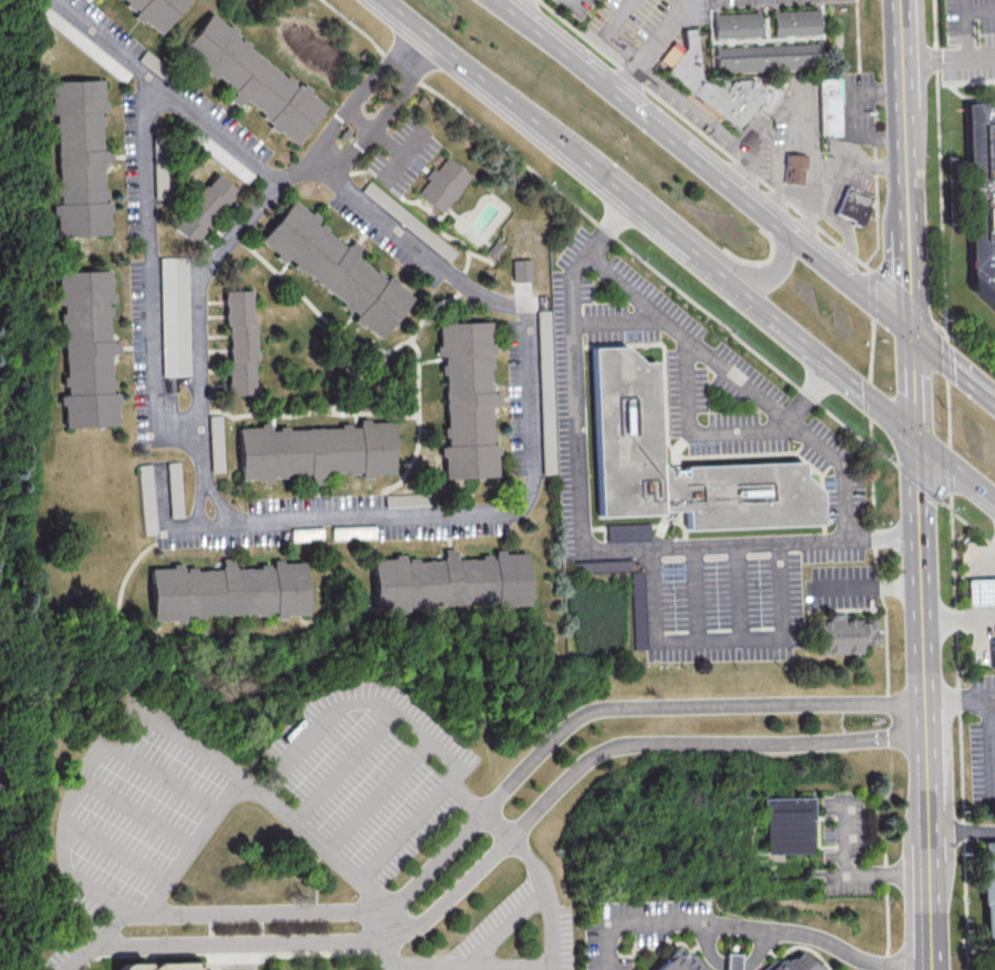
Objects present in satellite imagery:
parking lot: (590, 1)
parking lot: (767, 2)
road: (515, 5)
road: (571, 5)
building: (154, 12)
road: (981, 13)
building: (793, 23)
building: (735, 26)
road: (968, 29)
road: (662, 30)
road: (605, 33)
road: (857, 44)
road: (948, 60)
building: (764, 62)
road: (626, 77)
building: (253, 79)
road: (902, 84)
building: (714, 86)
road: (361, 93)
road: (501, 93)
road: (181, 104)
building: (826, 106)
parking lot: (690, 111)
road: (692, 112)
road: (849, 112)
road: (384, 114)
road: (701, 131)
road: (372, 136)
road: (802, 147)
parking lot: (402, 156)
road: (402, 157)
building: (80, 158)
road: (748, 160)
road: (940, 165)
road: (704, 168)
building: (791, 169)
building: (442, 184)
road: (827, 186)
building: (980, 201)
road: (799, 205)
building: (851, 206)
building: (202, 207)
road: (876, 209)
road: (448, 212)
road: (443, 223)
road: (662, 227)
road: (609, 234)
building: (491, 249)
road: (910, 252)
road: (484, 258)
building: (336, 270)
building: (520, 270)
road: (759, 275)
road: (147, 276)
parking lot: (165, 277)
road: (725, 279)
road: (195, 289)
road: (872, 294)
road: (307, 295)
road: (902, 295)
road: (431, 305)
building: (173, 316)
road: (617, 321)
building: (543, 322)
traffic signals: (913, 337)
building: (242, 341)
road: (397, 344)
road: (963, 345)
road: (871, 348)
building: (86, 349)
road: (946, 355)
road: (432, 360)
road: (828, 366)
park: (350, 368)
road: (954, 369)
parking lot: (701, 376)
road: (742, 383)
road: (914, 388)
building: (468, 399)
road: (873, 403)
road: (372, 413)
building: (625, 413)
road: (948, 413)
road: (726, 430)
road: (434, 438)
traffic signals: (916, 440)
building: (215, 443)
building: (318, 450)
road: (952, 470)
road: (955, 470)
road: (206, 477)
road: (919, 482)
road: (529, 488)
building: (174, 489)
building: (145, 499)
road: (967, 522)
building: (627, 531)
building: (353, 532)
road: (580, 532)
building: (306, 534)
road: (989, 561)
parking lot: (691, 572)
building: (452, 582)
road: (865, 586)
road: (879, 586)
building: (230, 591)
road: (738, 591)
building: (979, 591)
road: (693, 593)
building: (637, 610)
road: (116, 611)
road: (958, 618)
building: (840, 635)
road: (717, 640)
road: (525, 654)
building: (991, 656)
road: (924, 704)
road: (991, 711)
road: (960, 732)
road: (416, 736)
building: (0, 760)
road: (889, 764)
road: (343, 770)
road: (168, 773)
parking lot: (363, 779)
road: (374, 798)
road: (497, 799)
parking lot: (140, 810)
road: (142, 810)
building: (790, 826)
road: (961, 831)
road: (505, 839)
road: (69, 841)
parking lot: (843, 843)
road: (119, 844)
road: (531, 861)
road: (335, 863)
road: (883, 872)
road: (890, 875)
building: (986, 889)
road: (40, 891)
road: (633, 924)
parking lot: (637, 927)
road: (500, 928)
road: (764, 935)
parking lot: (499, 940)
parking lot: (69, 945)
road: (652, 948)
road: (807, 948)
road: (240, 952)
road: (76, 957)
building: (733, 961)
building: (684, 962)
building: (801, 964)
road: (496, 966)
building: (154, 967)

